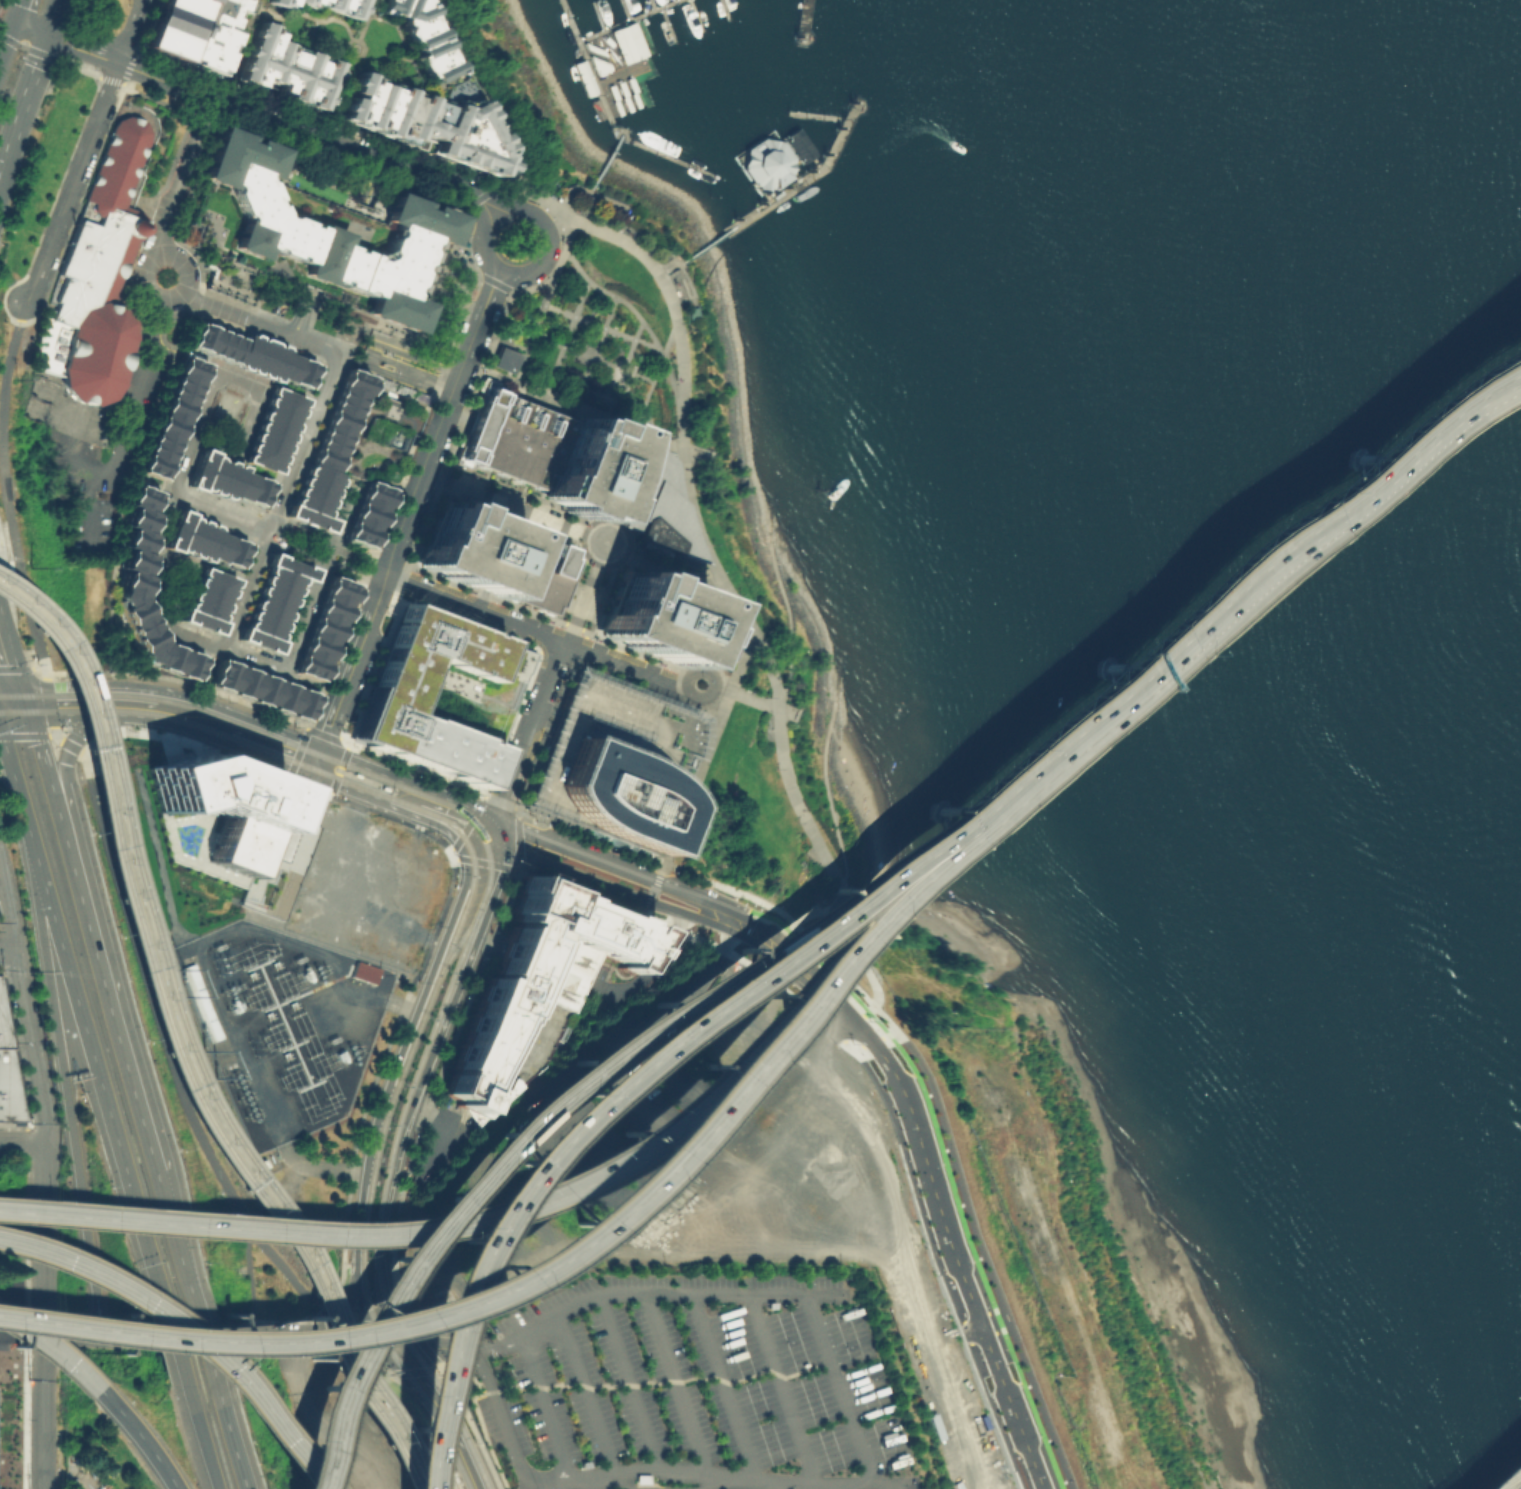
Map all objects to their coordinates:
building: (282, 2)
road: (2, 5)
building: (338, 5)
pier: (727, 10)
road: (20, 12)
road: (303, 13)
pier: (698, 15)
pier: (638, 16)
pier: (571, 18)
road: (366, 19)
pier: (807, 24)
traffic signals: (14, 25)
building: (171, 26)
road: (31, 31)
road: (129, 32)
building: (211, 34)
road: (355, 36)
building: (425, 36)
traffic signals: (48, 37)
road: (6, 41)
road: (402, 41)
building: (628, 42)
road: (27, 47)
building: (594, 48)
road: (82, 50)
building: (599, 64)
road: (78, 66)
road: (129, 66)
building: (285, 67)
pier: (617, 71)
road: (49, 74)
road: (224, 77)
building: (585, 77)
road: (109, 79)
building: (631, 83)
road: (122, 84)
road: (30, 85)
building: (622, 87)
road: (340, 89)
building: (613, 91)
road: (480, 94)
building: (635, 99)
building: (627, 102)
building: (618, 106)
building: (428, 118)
road: (337, 124)
park: (557, 129)
road: (298, 131)
pier: (656, 149)
road: (325, 159)
road: (608, 160)
pier: (789, 163)
pier: (790, 163)
building: (767, 164)
road: (510, 174)
road: (181, 177)
road: (73, 183)
road: (576, 186)
road: (564, 189)
building: (256, 196)
road: (540, 199)
road: (604, 206)
road: (549, 218)
road: (560, 228)
road: (545, 231)
road: (482, 237)
road: (710, 243)
building: (388, 259)
road: (677, 261)
road: (183, 267)
road: (477, 274)
building: (97, 277)
road: (494, 282)
road: (534, 286)
road: (149, 288)
road: (509, 290)
road: (687, 292)
road: (303, 313)
road: (539, 315)
road: (639, 318)
road: (13, 319)
road: (605, 322)
road: (258, 323)
road: (601, 325)
building: (508, 327)
road: (493, 329)
road: (566, 337)
road: (634, 340)
road: (552, 342)
road: (509, 343)
road: (8, 354)
building: (252, 354)
building: (504, 358)
road: (601, 362)
road: (638, 364)
road: (407, 372)
road: (655, 375)
road: (644, 377)
road: (585, 378)
road: (562, 380)
road: (570, 403)
road: (633, 406)
road: (202, 409)
road: (608, 410)
building: (171, 417)
road: (128, 429)
building: (274, 430)
building: (381, 433)
building: (327, 452)
building: (544, 452)
road: (1408, 453)
road: (124, 471)
building: (226, 479)
road: (391, 482)
road: (157, 486)
road: (625, 486)
road: (393, 501)
river: (1281, 501)
road: (513, 506)
building: (661, 507)
road: (88, 510)
road: (406, 510)
building: (367, 513)
parking lot: (88, 524)
road: (160, 527)
building: (204, 541)
road: (699, 541)
road: (329, 545)
road: (118, 547)
park: (710, 554)
road: (16, 557)
road: (410, 557)
building: (493, 558)
road: (321, 561)
road: (658, 568)
road: (222, 570)
building: (134, 584)
road: (604, 590)
road: (585, 593)
road: (485, 595)
building: (209, 601)
building: (274, 603)
road: (240, 606)
road: (473, 607)
road: (1224, 607)
road: (308, 608)
building: (661, 620)
road: (790, 621)
road: (467, 623)
road: (571, 625)
building: (325, 630)
road: (584, 630)
road: (585, 633)
road: (11, 647)
road: (634, 651)
road: (207, 665)
road: (623, 665)
road: (20, 668)
road: (109, 668)
road: (42, 672)
road: (297, 678)
road: (177, 679)
road: (713, 684)
road: (676, 686)
road: (644, 689)
road: (721, 689)
road: (1132, 689)
road: (328, 690)
road: (111, 691)
building: (263, 691)
road: (12, 692)
traffic signals: (24, 692)
building: (444, 694)
road: (48, 701)
road: (753, 701)
road: (26, 703)
road: (685, 703)
road: (15, 714)
traffic signals: (30, 714)
road: (512, 722)
road: (89, 725)
road: (306, 727)
road: (529, 730)
road: (54, 733)
road: (51, 735)
road: (213, 735)
road: (302, 735)
road: (23, 736)
road: (541, 738)
road: (65, 742)
road: (73, 747)
traffic signals: (317, 750)
road: (705, 753)
road: (341, 755)
road: (42, 760)
building: (614, 760)
road: (313, 761)
road: (346, 761)
road: (411, 765)
road: (336, 769)
road: (340, 770)
railway: (344, 771)
traffic signals: (309, 772)
road: (265, 773)
road: (63, 776)
road: (285, 777)
road: (332, 781)
railway: (389, 789)
road: (827, 789)
road: (17, 790)
road: (328, 793)
road: (484, 794)
building: (219, 804)
road: (475, 808)
traffic signals: (495, 818)
road: (437, 819)
road: (491, 829)
road: (499, 831)
road: (588, 834)
road: (516, 839)
traffic signals: (487, 840)
road: (494, 843)
road: (947, 844)
traffic signals: (501, 846)
road: (954, 848)
road: (447, 854)
road: (483, 862)
road: (614, 863)
road: (517, 865)
road: (916, 866)
road: (513, 868)
road: (923, 872)
building: (417, 876)
road: (612, 887)
road: (579, 889)
road: (652, 890)
road: (799, 910)
road: (644, 911)
railway: (475, 921)
road: (817, 928)
railway: (456, 932)
railway: (461, 943)
road: (894, 946)
road: (816, 949)
road: (6, 951)
road: (751, 953)
road: (461, 969)
building: (363, 971)
road: (104, 989)
building: (534, 993)
road: (77, 1000)
road: (24, 1012)
road: (890, 1014)
power substation: (282, 1023)
road: (859, 1024)
road: (853, 1028)
road: (910, 1032)
road: (904, 1035)
road: (898, 1038)
railway: (184, 1042)
road: (410, 1042)
road: (888, 1043)
road: (174, 1050)
road: (868, 1050)
railway: (175, 1052)
road: (382, 1067)
building: (7, 1075)
road: (66, 1094)
road: (431, 1098)
road: (592, 1117)
road: (540, 1119)
road: (22, 1142)
road: (129, 1186)
road: (910, 1188)
road: (393, 1211)
road: (521, 1212)
traffic signals: (139, 1220)
road: (170, 1230)
road: (43, 1237)
road: (978, 1249)
road: (970, 1252)
road: (148, 1253)
road: (953, 1256)
road: (541, 1258)
road: (363, 1264)
road: (373, 1264)
road: (249, 1276)
road: (353, 1286)
road: (352, 1305)
road: (385, 1308)
road: (151, 1309)
road: (358, 1310)
road: (818, 1327)
road: (968, 1328)
road: (963, 1331)
traffic signals: (408, 1332)
road: (171, 1333)
road: (185, 1333)
road: (369, 1333)
road: (201, 1337)
road: (371, 1339)
traffic signals: (414, 1344)
road: (440, 1346)
road: (436, 1348)
road: (495, 1348)
road: (400, 1349)
road: (52, 1350)
road: (388, 1360)
road: (394, 1371)
road: (410, 1371)
road: (628, 1385)
road: (674, 1388)
parking lot: (697, 1388)
road: (721, 1389)
road: (779, 1389)
road: (587, 1398)
road: (40, 1410)
road: (444, 1410)
road: (545, 1410)
power substation: (10, 1411)
road: (990, 1415)
road: (469, 1424)
road: (429, 1430)
road: (504, 1430)
road: (413, 1435)
road: (140, 1437)
road: (203, 1437)
road: (231, 1438)
road: (296, 1455)
road: (662, 1471)
road: (519, 1479)
road: (591, 1480)
road: (1511, 1480)
road: (528, 1483)
road: (621, 1484)
road: (703, 1486)
road: (90, 1487)

